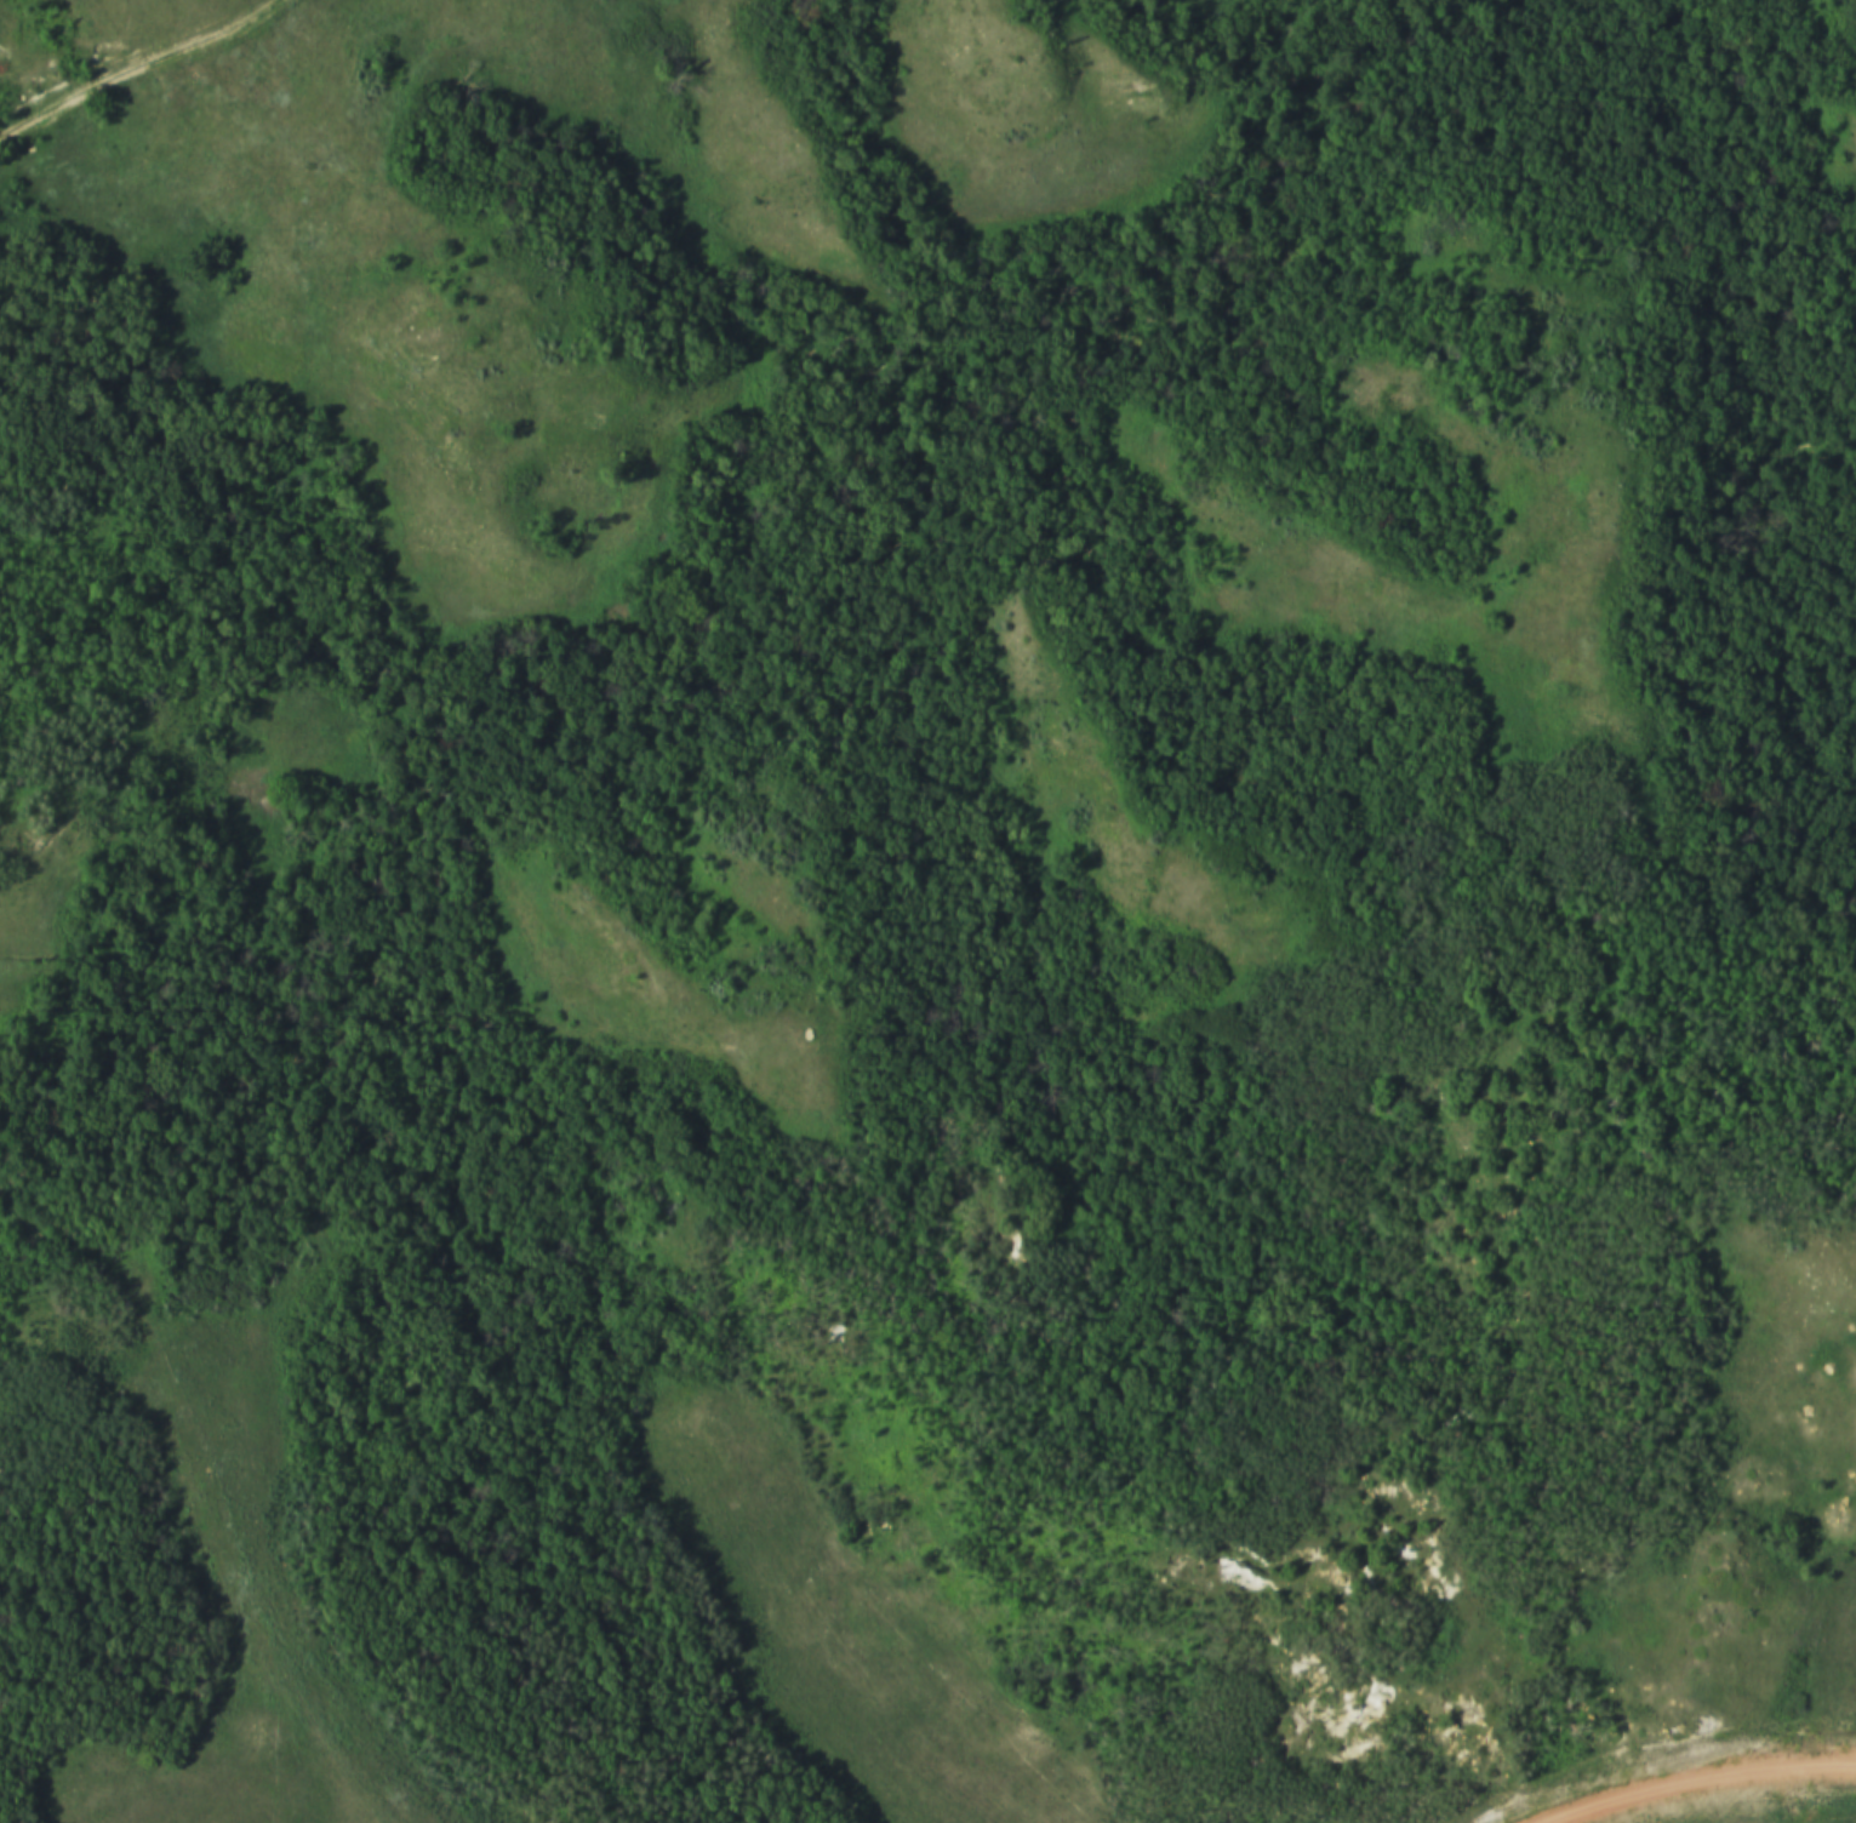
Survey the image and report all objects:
road: (144, 72)

